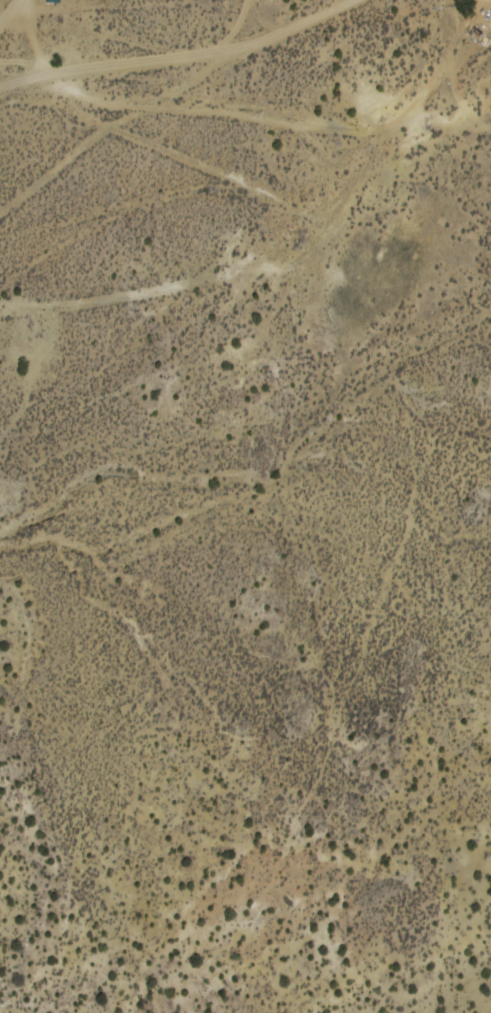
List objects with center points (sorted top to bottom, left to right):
road: (244, 87)

